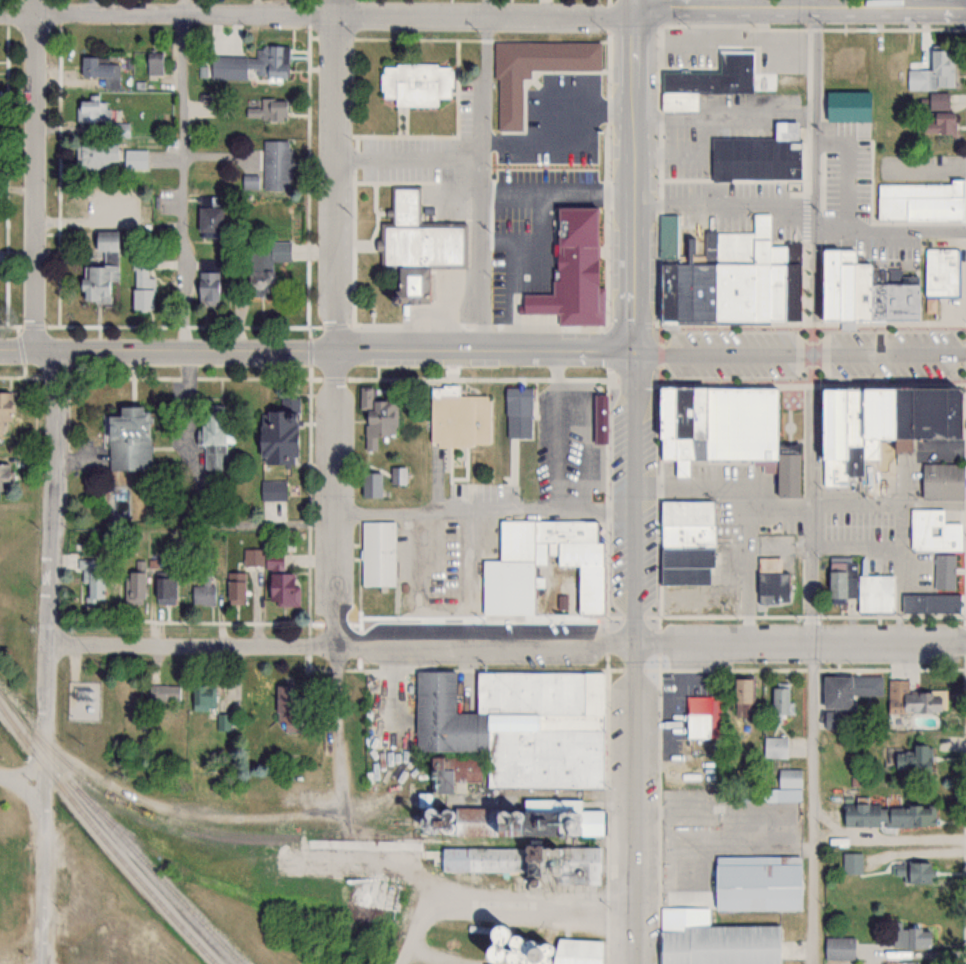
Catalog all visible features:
road: (636, 3)
road: (800, 6)
road: (175, 7)
road: (318, 16)
building: (154, 62)
building: (849, 62)
building: (247, 65)
building: (96, 67)
building: (934, 71)
building: (705, 80)
building: (414, 83)
road: (554, 92)
building: (508, 103)
building: (846, 104)
building: (92, 109)
building: (267, 109)
building: (937, 115)
building: (120, 129)
road: (573, 142)
building: (755, 154)
building: (97, 155)
building: (135, 158)
road: (409, 160)
building: (275, 164)
road: (36, 174)
road: (337, 174)
road: (635, 179)
road: (184, 182)
road: (479, 184)
road: (813, 192)
road: (556, 193)
building: (921, 200)
building: (92, 201)
building: (207, 222)
road: (878, 222)
building: (103, 239)
road: (531, 242)
building: (421, 246)
building: (265, 257)
building: (571, 264)
building: (663, 264)
building: (944, 273)
building: (753, 276)
building: (94, 283)
building: (206, 283)
building: (795, 283)
building: (841, 286)
building: (142, 288)
building: (864, 293)
road: (511, 296)
building: (897, 298)
road: (317, 349)
road: (799, 351)
building: (518, 401)
building: (5, 413)
building: (906, 416)
building: (939, 416)
building: (376, 419)
building: (459, 419)
building: (880, 421)
building: (744, 425)
road: (813, 428)
building: (686, 429)
road: (558, 430)
building: (277, 433)
building: (857, 434)
building: (215, 437)
building: (127, 439)
building: (837, 439)
parking lot: (572, 442)
road: (912, 454)
building: (6, 474)
building: (791, 478)
building: (941, 481)
building: (370, 484)
road: (696, 486)
building: (272, 490)
road: (889, 503)
road: (781, 505)
road: (554, 509)
road: (474, 510)
building: (933, 531)
building: (686, 542)
building: (377, 553)
building: (252, 557)
building: (530, 557)
building: (944, 571)
road: (425, 578)
building: (93, 581)
building: (772, 581)
building: (202, 584)
building: (135, 585)
building: (858, 586)
road: (338, 587)
building: (235, 588)
building: (589, 589)
building: (164, 590)
building: (282, 590)
building: (930, 603)
road: (800, 643)
road: (195, 646)
road: (487, 646)
road: (50, 656)
road: (635, 658)
building: (847, 688)
building: (741, 691)
building: (163, 693)
building: (203, 698)
building: (780, 698)
building: (915, 698)
building: (288, 707)
building: (698, 716)
building: (225, 722)
building: (776, 745)
building: (508, 751)
building: (913, 758)
road: (21, 773)
building: (784, 786)
road: (813, 803)
building: (888, 815)
road: (890, 834)
railway: (105, 836)
railway: (273, 837)
railway: (135, 838)
railway: (128, 841)
building: (526, 861)
building: (852, 862)
building: (914, 871)
building: (756, 882)
road: (419, 887)
building: (374, 893)
road: (533, 906)
building: (910, 936)
building: (713, 939)
building: (839, 947)
building: (529, 949)

